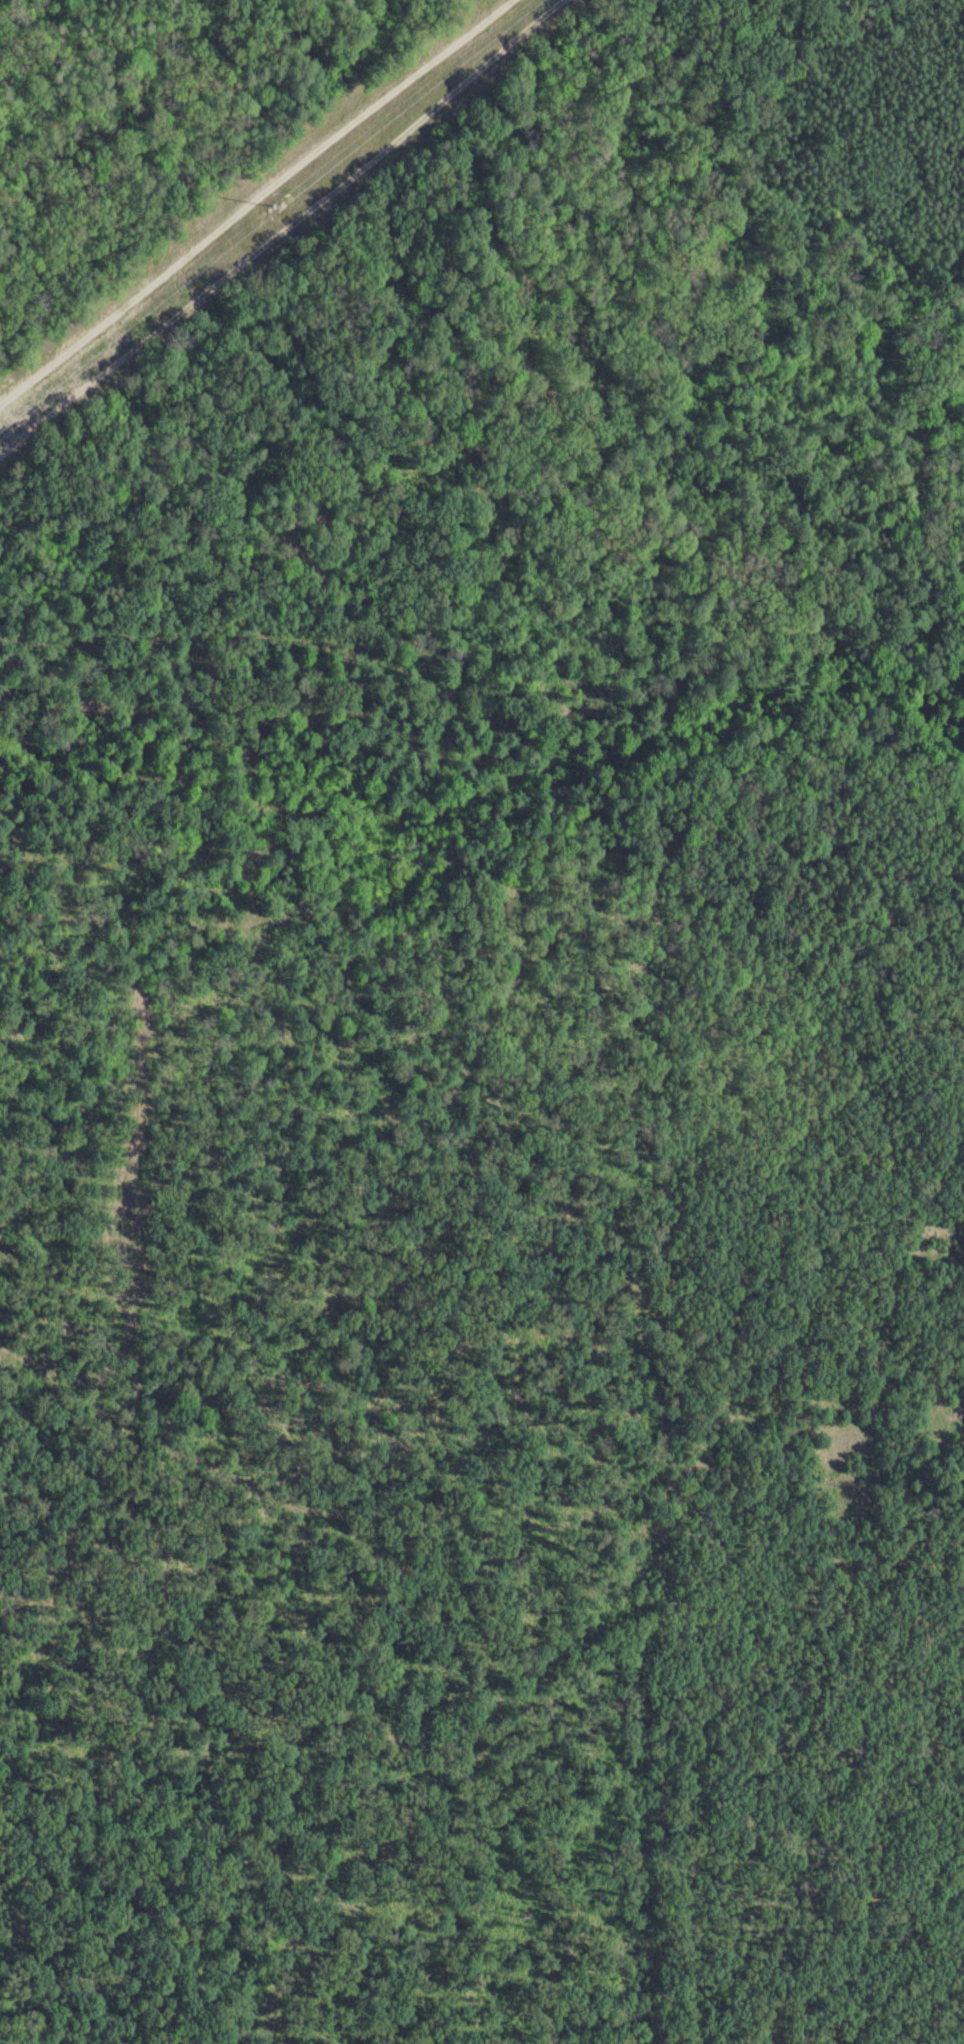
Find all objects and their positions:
road: (255, 192)

